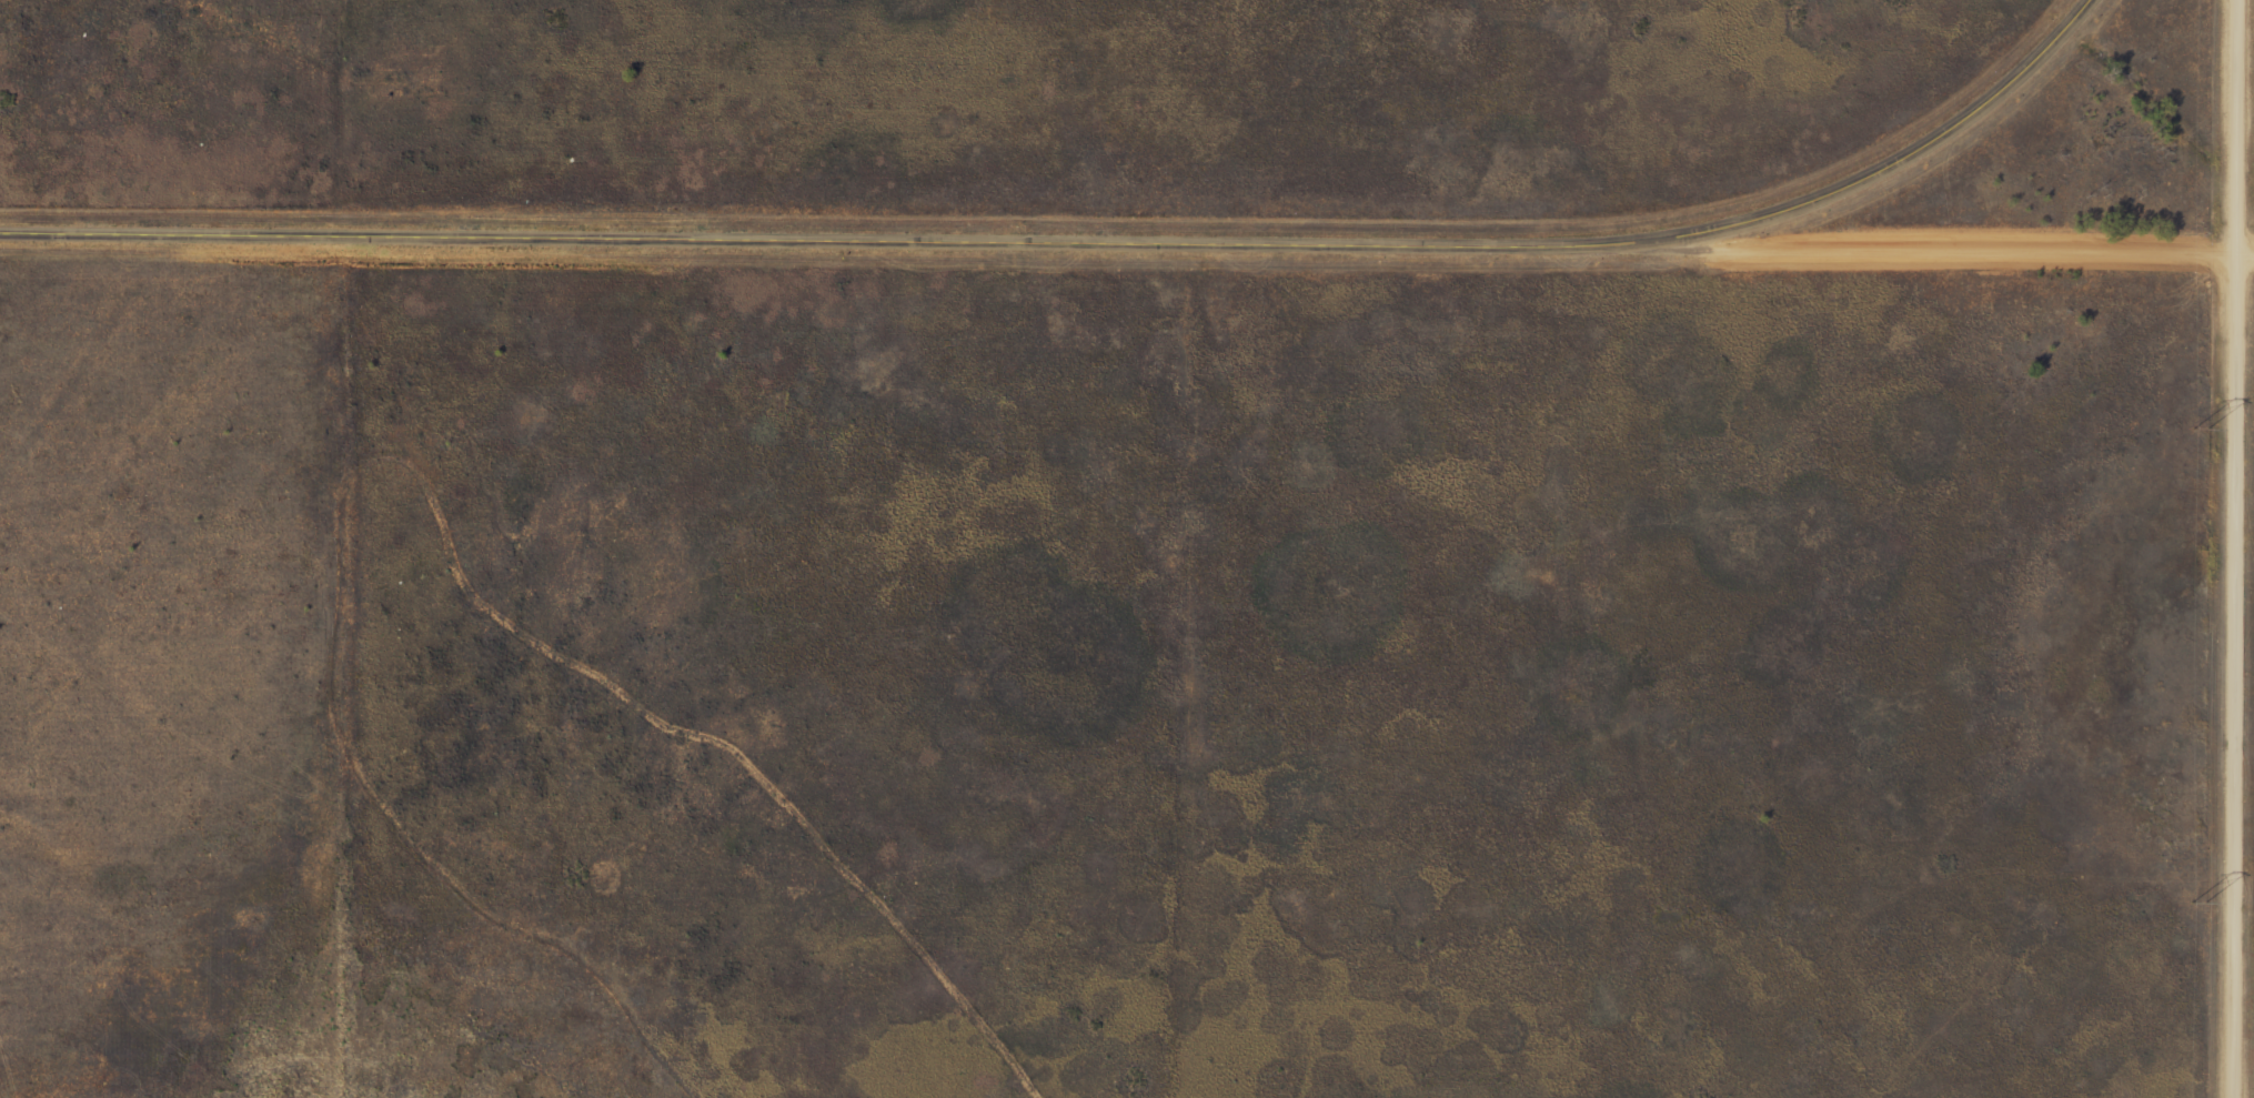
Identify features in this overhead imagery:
road: (1945, 236)
road: (1079, 242)
power tower: (2196, 430)
power tower: (2194, 904)

